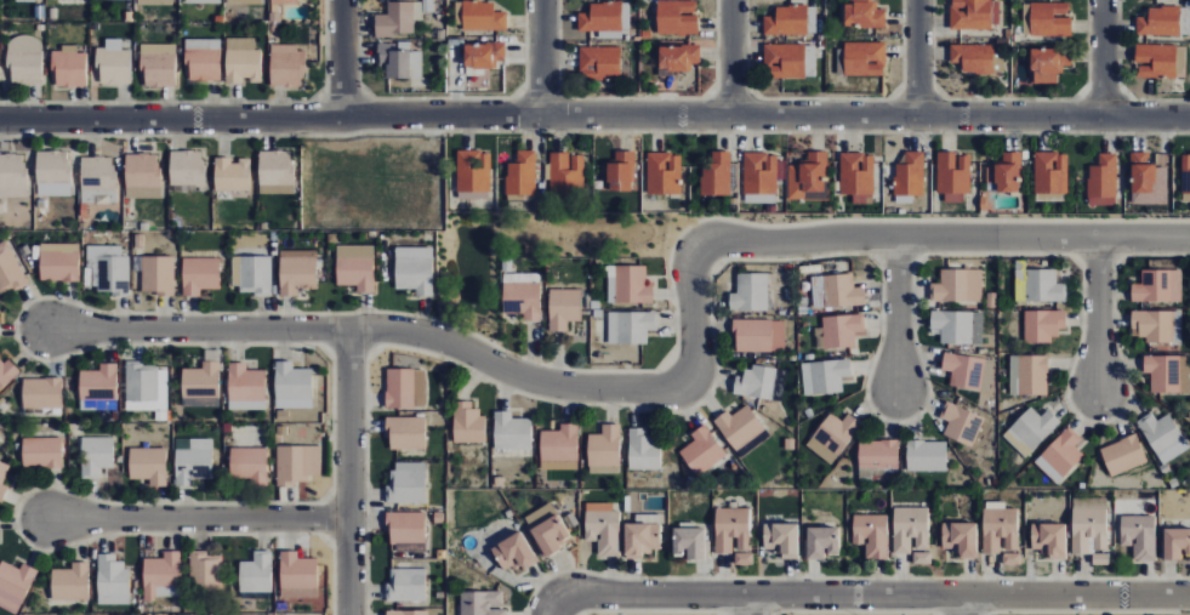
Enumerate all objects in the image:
building: (29, 0)
building: (204, 1)
building: (244, 1)
building: (286, 1)
building: (155, 2)
building: (975, 13)
building: (864, 15)
building: (483, 17)
building: (605, 17)
building: (677, 17)
building: (398, 18)
building: (1050, 18)
building: (787, 21)
building: (1160, 22)
building: (483, 55)
road: (541, 57)
building: (678, 57)
road: (730, 57)
road: (918, 57)
building: (973, 57)
road: (1104, 57)
road: (341, 58)
building: (394, 58)
building: (24, 59)
building: (204, 59)
building: (860, 59)
building: (243, 61)
building: (784, 61)
building: (1156, 61)
building: (599, 62)
building: (113, 63)
building: (158, 64)
building: (1048, 64)
building: (68, 67)
building: (287, 67)
road: (594, 115)
building: (187, 167)
building: (277, 172)
building: (566, 172)
building: (621, 172)
building: (953, 172)
building: (1052, 172)
building: (53, 173)
building: (664, 173)
building: (761, 173)
building: (858, 173)
building: (1004, 173)
building: (1186, 173)
building: (12, 175)
building: (233, 175)
building: (473, 175)
building: (522, 175)
building: (717, 175)
building: (142, 176)
building: (808, 176)
building: (910, 176)
building: (97, 180)
building: (1146, 180)
building: (1103, 181)
road: (701, 247)
building: (59, 262)
building: (357, 267)
building: (109, 268)
building: (415, 269)
building: (10, 271)
building: (297, 271)
building: (252, 274)
building: (158, 275)
building: (200, 275)
building: (628, 285)
building: (958, 286)
building: (1038, 286)
building: (1158, 286)
building: (842, 291)
building: (751, 294)
building: (522, 295)
building: (564, 308)
road: (898, 315)
road: (1098, 315)
building: (1043, 325)
building: (1155, 325)
building: (958, 326)
road: (198, 328)
building: (631, 328)
building: (838, 331)
building: (759, 335)
building: (969, 371)
building: (7, 372)
building: (1168, 374)
building: (1029, 375)
building: (825, 376)
building: (756, 382)
building: (201, 386)
building: (292, 386)
building: (147, 387)
building: (98, 388)
building: (246, 388)
building: (405, 388)
building: (41, 393)
building: (467, 423)
building: (961, 423)
building: (742, 431)
building: (1031, 431)
building: (512, 432)
building: (406, 433)
building: (833, 437)
building: (1165, 437)
building: (560, 445)
building: (604, 450)
building: (644, 450)
building: (702, 451)
building: (41, 452)
building: (1123, 455)
building: (96, 456)
building: (927, 456)
building: (1061, 456)
building: (193, 460)
building: (878, 460)
building: (297, 463)
building: (149, 465)
building: (249, 465)
road: (347, 469)
building: (2, 479)
building: (406, 483)
road: (195, 518)
building: (406, 528)
building: (909, 528)
building: (605, 530)
building: (730, 530)
building: (998, 530)
building: (1088, 530)
building: (557, 534)
building: (869, 534)
building: (1135, 535)
building: (645, 539)
building: (778, 539)
building: (956, 539)
building: (1046, 540)
building: (691, 541)
building: (816, 541)
building: (1173, 543)
building: (516, 551)
building: (919, 558)
building: (741, 559)
building: (1009, 559)
building: (1099, 559)
building: (205, 571)
building: (297, 571)
building: (256, 574)
building: (163, 576)
building: (113, 580)
building: (70, 582)
building: (13, 586)
building: (406, 586)
road: (872, 596)
building: (484, 603)
road: (746, 605)
road: (962, 605)
road: (552, 608)
building: (405, 613)

